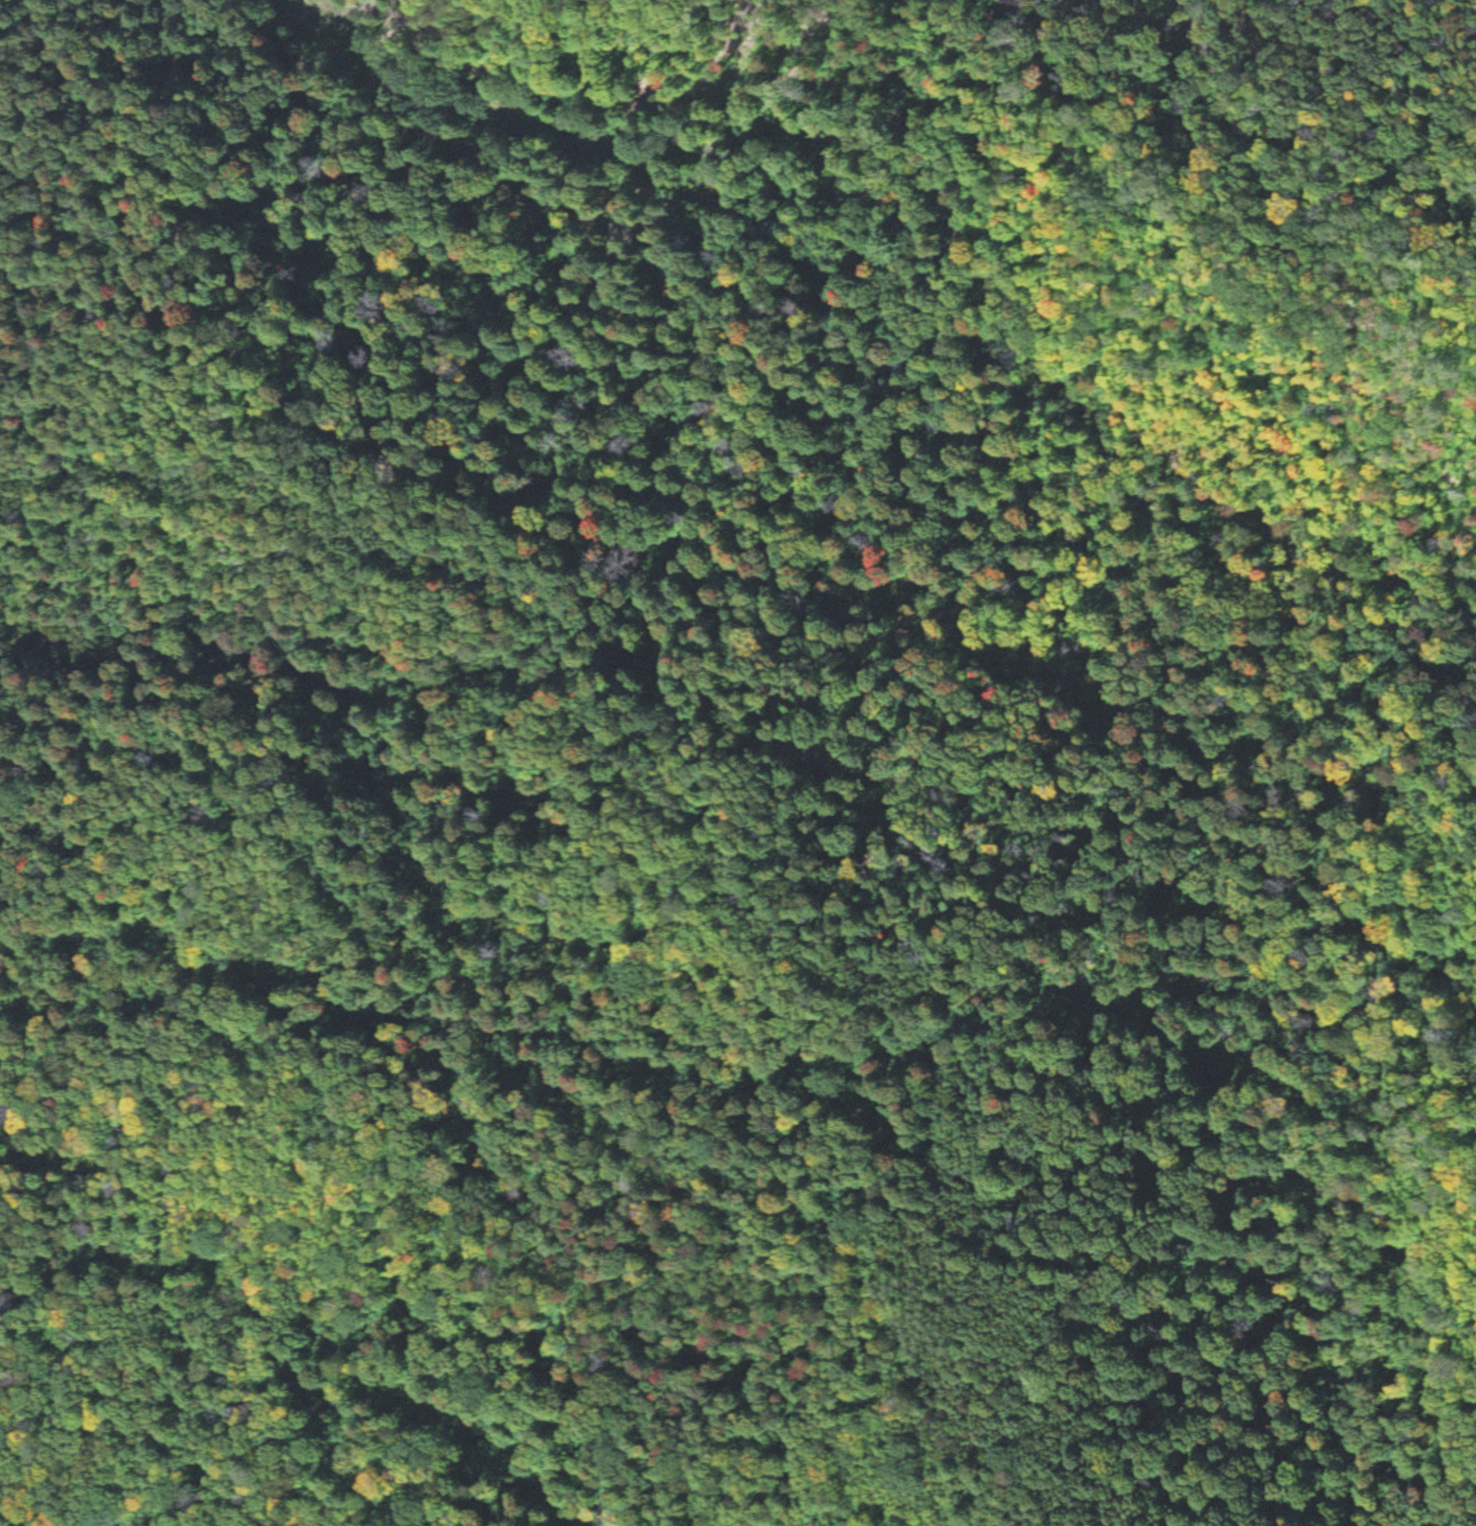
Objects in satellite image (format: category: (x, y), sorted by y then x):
road: (256, 105)
road: (1059, 165)
road: (1294, 251)
road: (587, 291)
road: (497, 530)
road: (175, 640)
road: (15, 734)
road: (727, 1205)
road: (1459, 1273)
road: (644, 1313)

